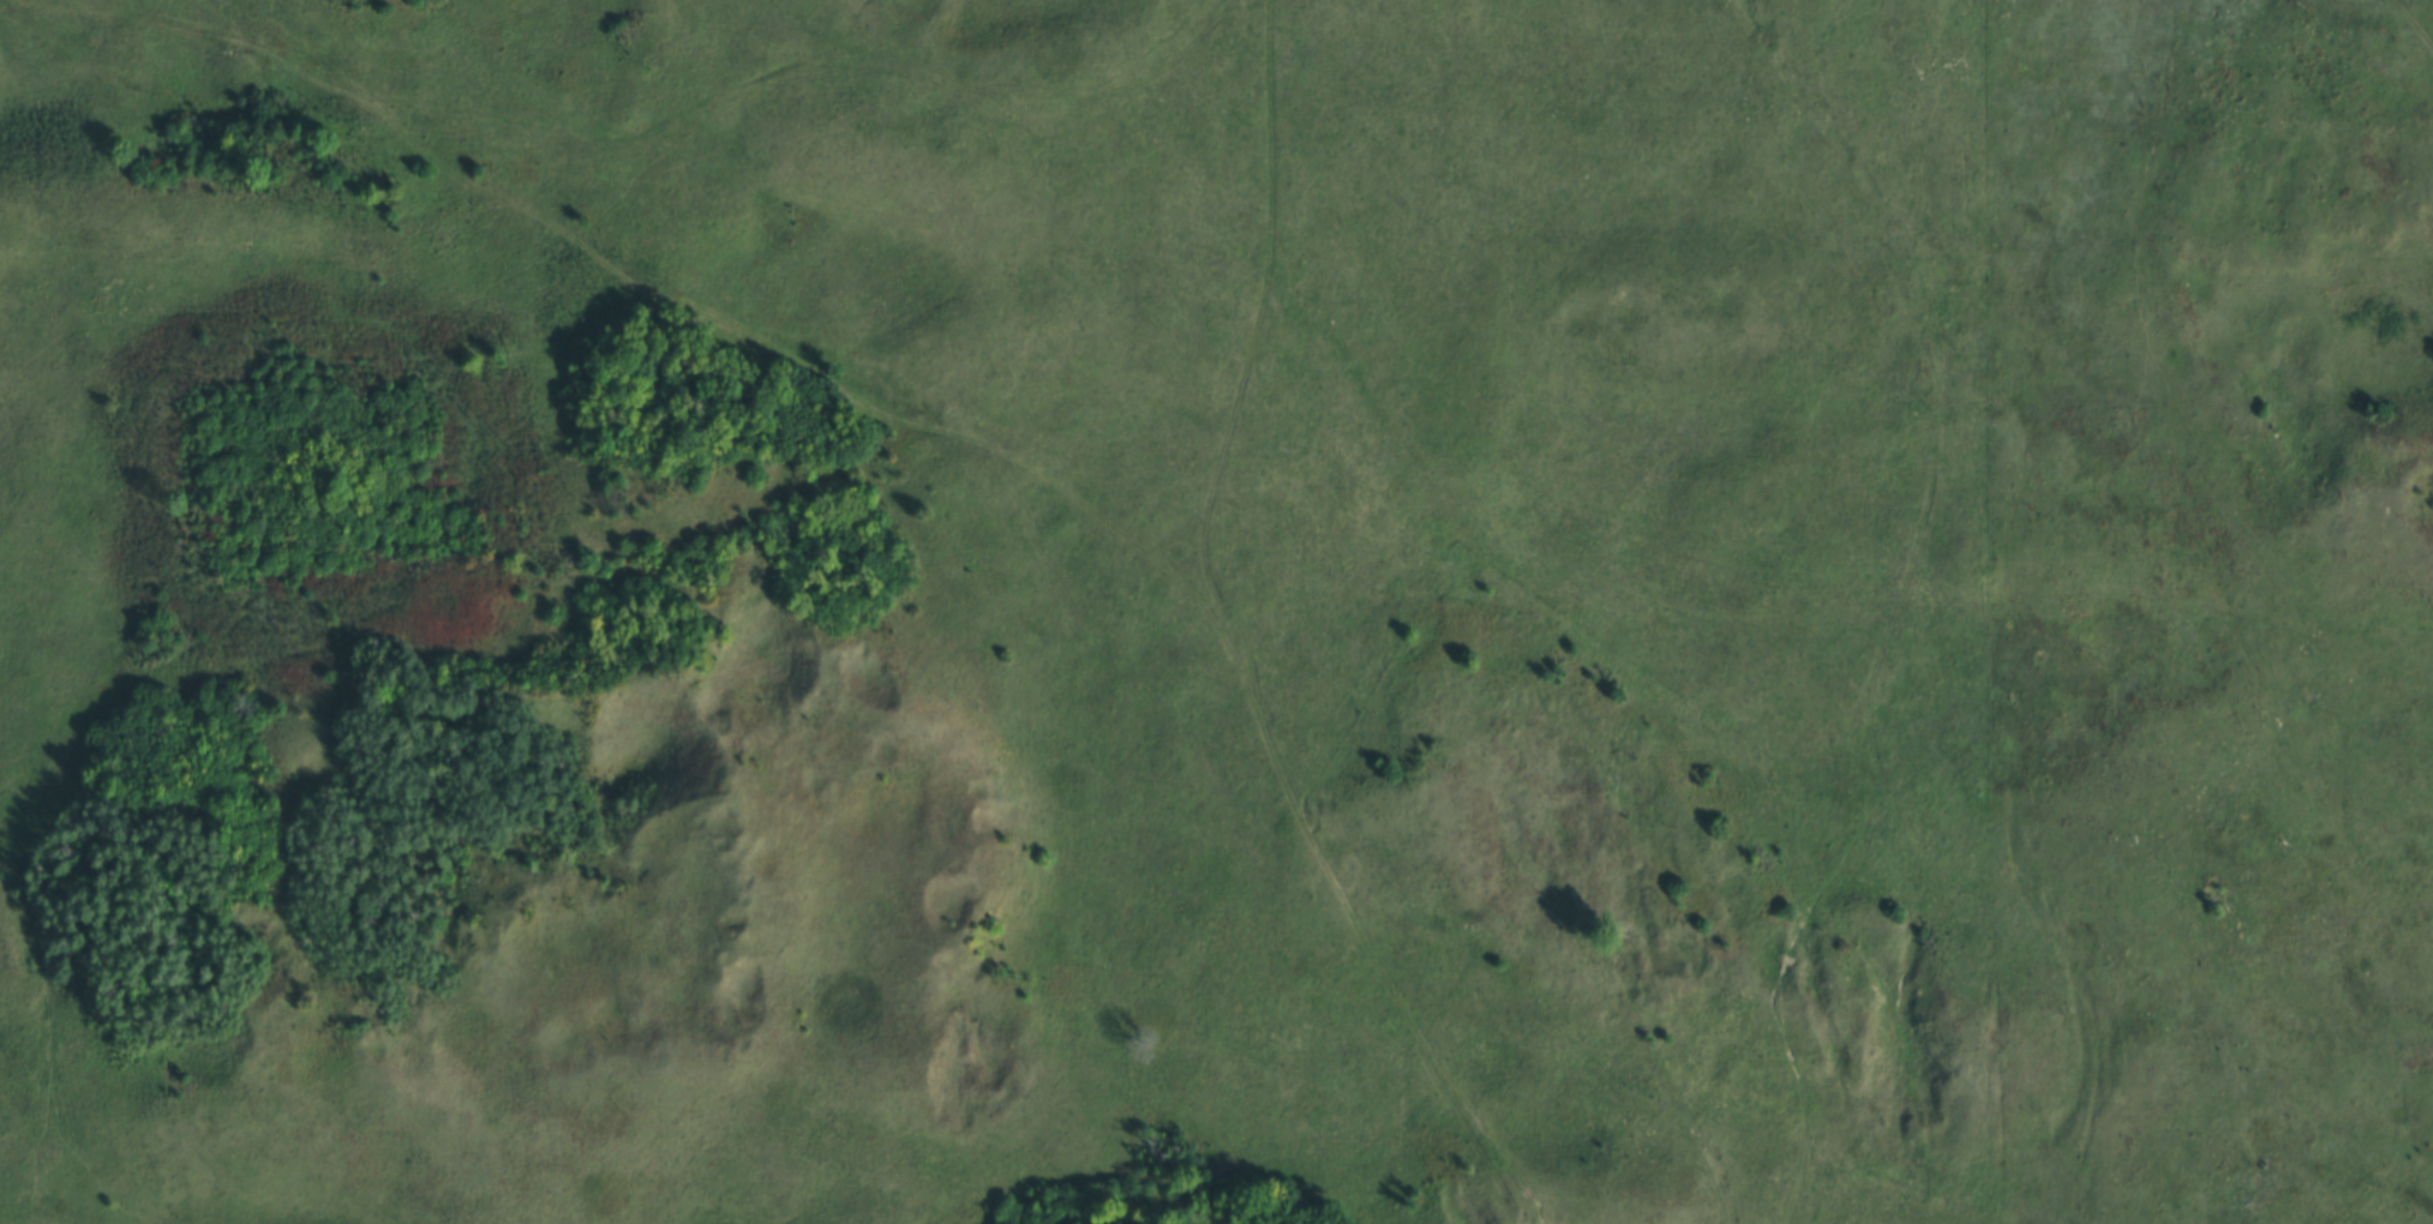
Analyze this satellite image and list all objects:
road: (2408, 28)

